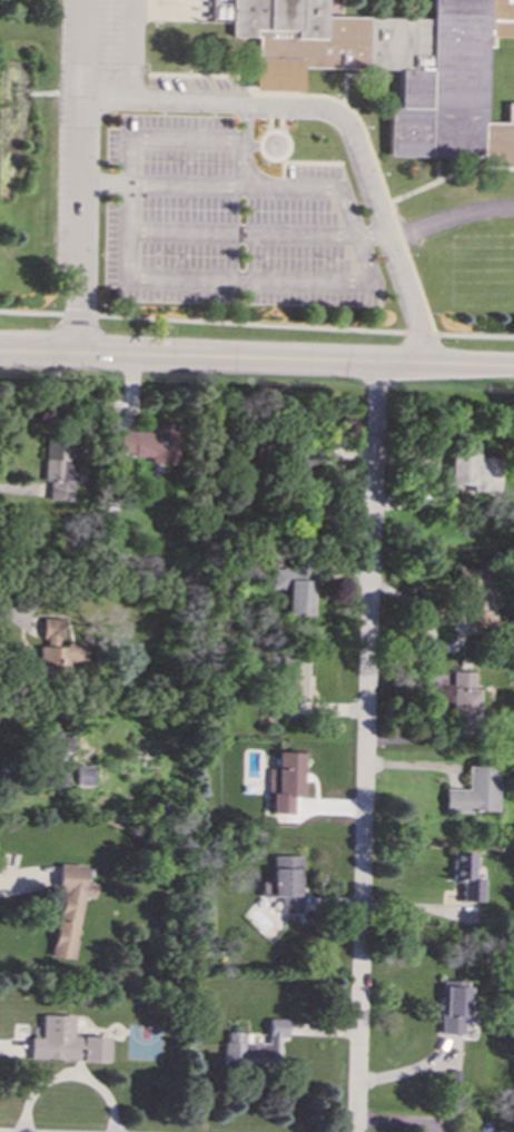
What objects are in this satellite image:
road: (85, 49)
road: (132, 50)
building: (395, 66)
road: (358, 76)
road: (354, 116)
road: (339, 121)
road: (164, 137)
road: (435, 169)
road: (448, 175)
road: (162, 184)
road: (289, 187)
parking lot: (202, 188)
road: (459, 214)
road: (79, 226)
road: (403, 232)
road: (243, 233)
road: (392, 236)
road: (226, 278)
road: (256, 324)
road: (257, 360)
building: (149, 442)
building: (60, 465)
building: (471, 474)
building: (295, 589)
building: (475, 597)
building: (58, 650)
building: (291, 680)
building: (464, 701)
building: (57, 739)
road: (365, 747)
building: (52, 771)
building: (83, 776)
building: (285, 780)
building: (474, 791)
building: (465, 876)
building: (284, 883)
building: (68, 907)
building: (453, 1006)
building: (65, 1042)
road: (68, 1076)

